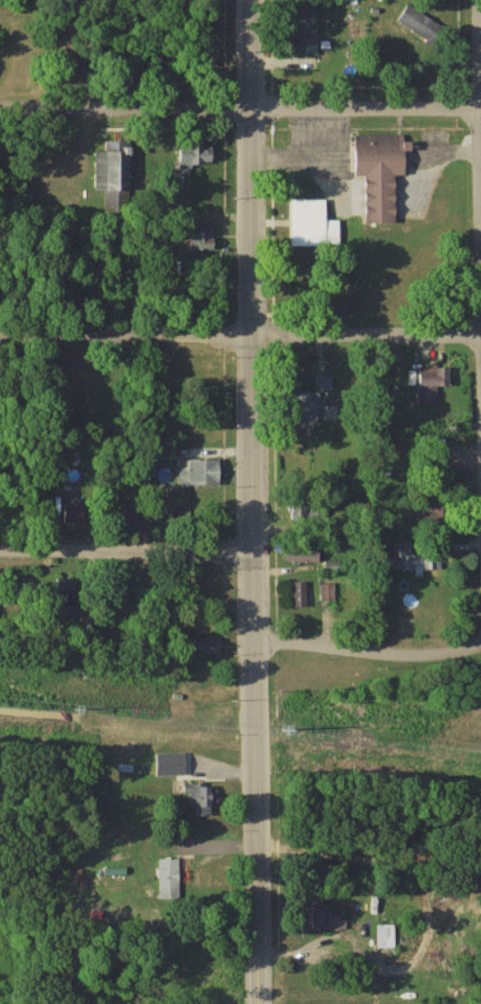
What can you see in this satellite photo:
building: (419, 23)
building: (308, 32)
road: (91, 52)
road: (480, 52)
road: (240, 104)
building: (198, 155)
building: (114, 171)
building: (381, 173)
building: (314, 225)
building: (207, 239)
road: (240, 334)
building: (434, 383)
building: (84, 389)
building: (321, 402)
building: (201, 473)
road: (252, 501)
building: (82, 512)
building: (132, 521)
road: (127, 547)
building: (305, 554)
building: (417, 563)
building: (301, 595)
building: (93, 629)
building: (211, 647)
road: (369, 650)
building: (473, 734)
building: (202, 801)
building: (170, 880)
building: (330, 919)
building: (387, 937)
road: (346, 960)

